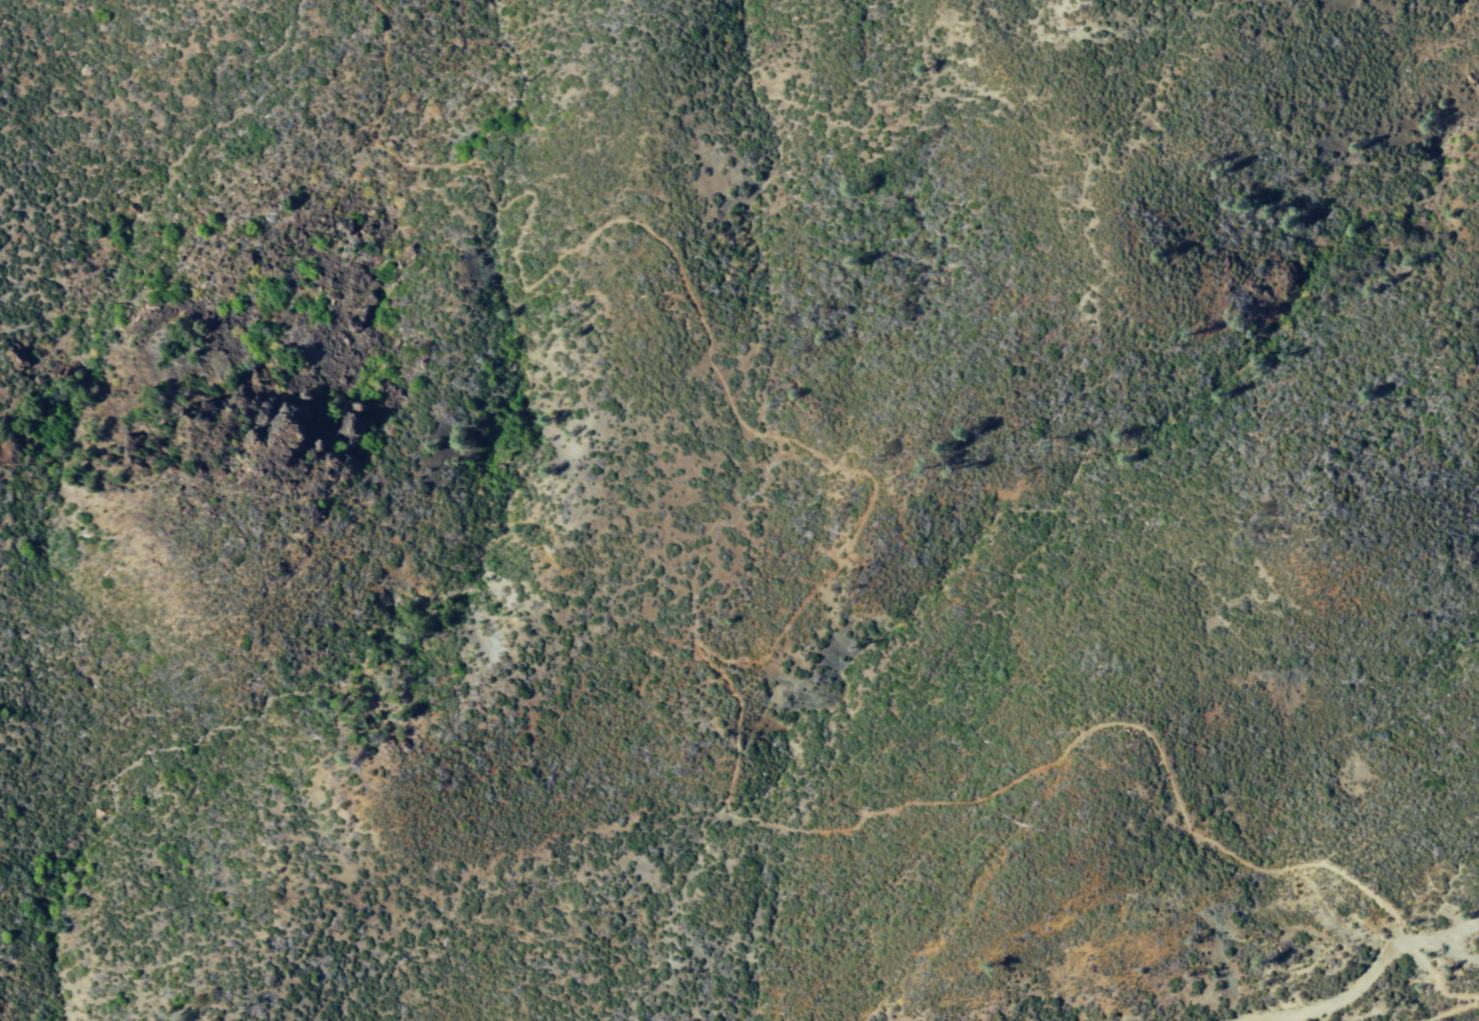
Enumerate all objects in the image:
road: (1379, 979)

